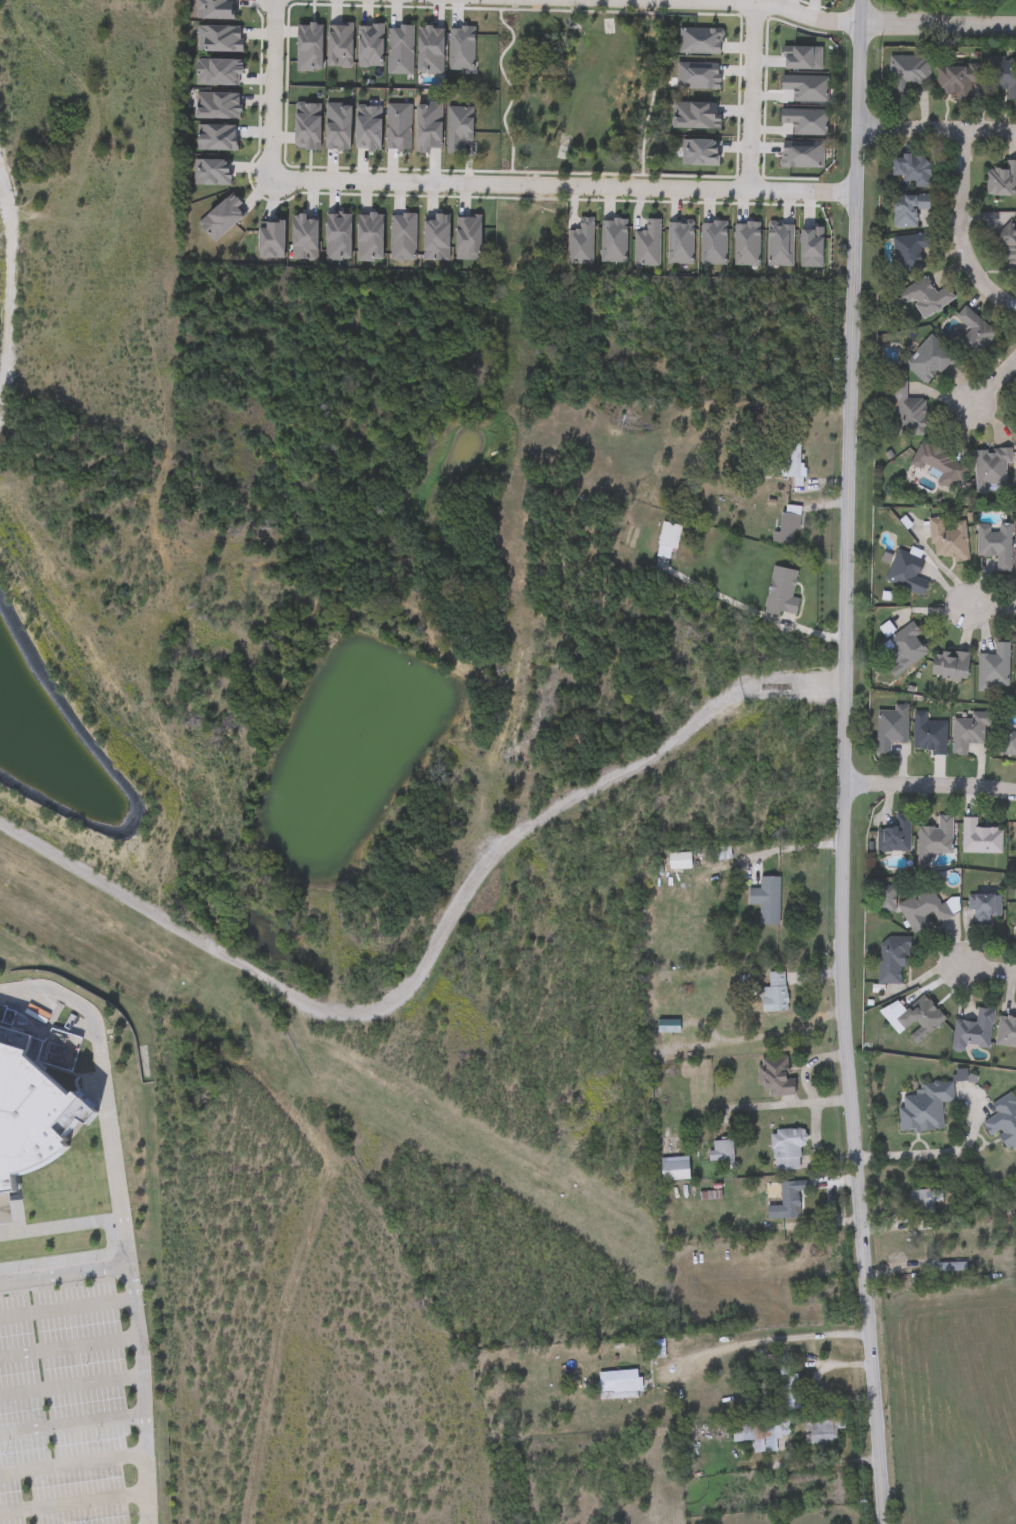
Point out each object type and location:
road: (766, 5)
road: (940, 22)
building: (1003, 74)
building: (906, 75)
building: (956, 79)
road: (274, 90)
road: (752, 96)
road: (938, 133)
building: (912, 169)
building: (1001, 181)
road: (565, 186)
building: (908, 209)
road: (966, 224)
building: (1011, 250)
building: (909, 253)
building: (923, 298)
building: (971, 335)
building: (928, 360)
road: (995, 381)
building: (908, 408)
building: (791, 461)
building: (938, 465)
building: (992, 469)
building: (788, 525)
building: (667, 540)
building: (947, 540)
building: (995, 545)
building: (906, 573)
building: (779, 594)
road: (992, 608)
building: (903, 650)
building: (950, 666)
building: (993, 669)
building: (891, 728)
building: (968, 733)
building: (928, 734)
building: (1008, 743)
road: (844, 762)
road: (930, 785)
building: (895, 836)
building: (979, 838)
building: (934, 840)
building: (766, 900)
building: (983, 908)
building: (922, 909)
road: (433, 948)
building: (891, 960)
road: (987, 971)
building: (774, 999)
building: (913, 1018)
building: (974, 1030)
building: (1006, 1032)
building: (775, 1076)
road: (789, 1104)
building: (924, 1107)
road: (815, 1108)
building: (1003, 1121)
building: (721, 1151)
building: (785, 1151)
road: (933, 1154)
building: (674, 1169)
building: (788, 1201)
building: (925, 1206)
road: (123, 1219)
road: (61, 1226)
road: (64, 1274)
road: (67, 1309)
road: (765, 1340)
road: (69, 1347)
building: (656, 1347)
road: (72, 1387)
building: (610, 1388)
building: (788, 1388)
road: (73, 1423)
building: (824, 1429)
building: (755, 1438)
building: (132, 1448)
building: (5, 1460)
road: (74, 1466)
road: (74, 1503)

